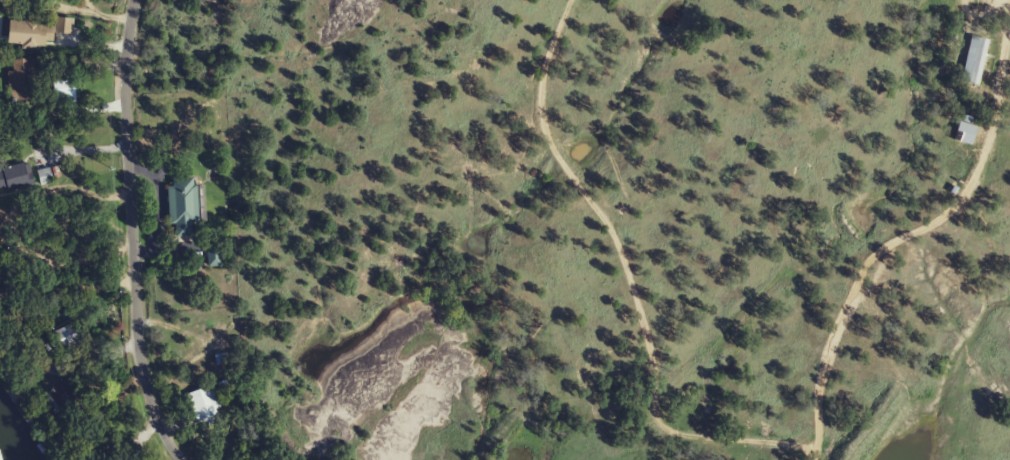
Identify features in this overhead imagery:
building: (36, 32)
building: (976, 60)
building: (22, 80)
building: (64, 91)
building: (966, 133)
road: (60, 148)
building: (48, 175)
building: (16, 177)
building: (185, 205)
road: (129, 233)
road: (648, 249)
building: (215, 255)
building: (65, 340)
building: (63, 396)
building: (206, 405)
building: (87, 449)

